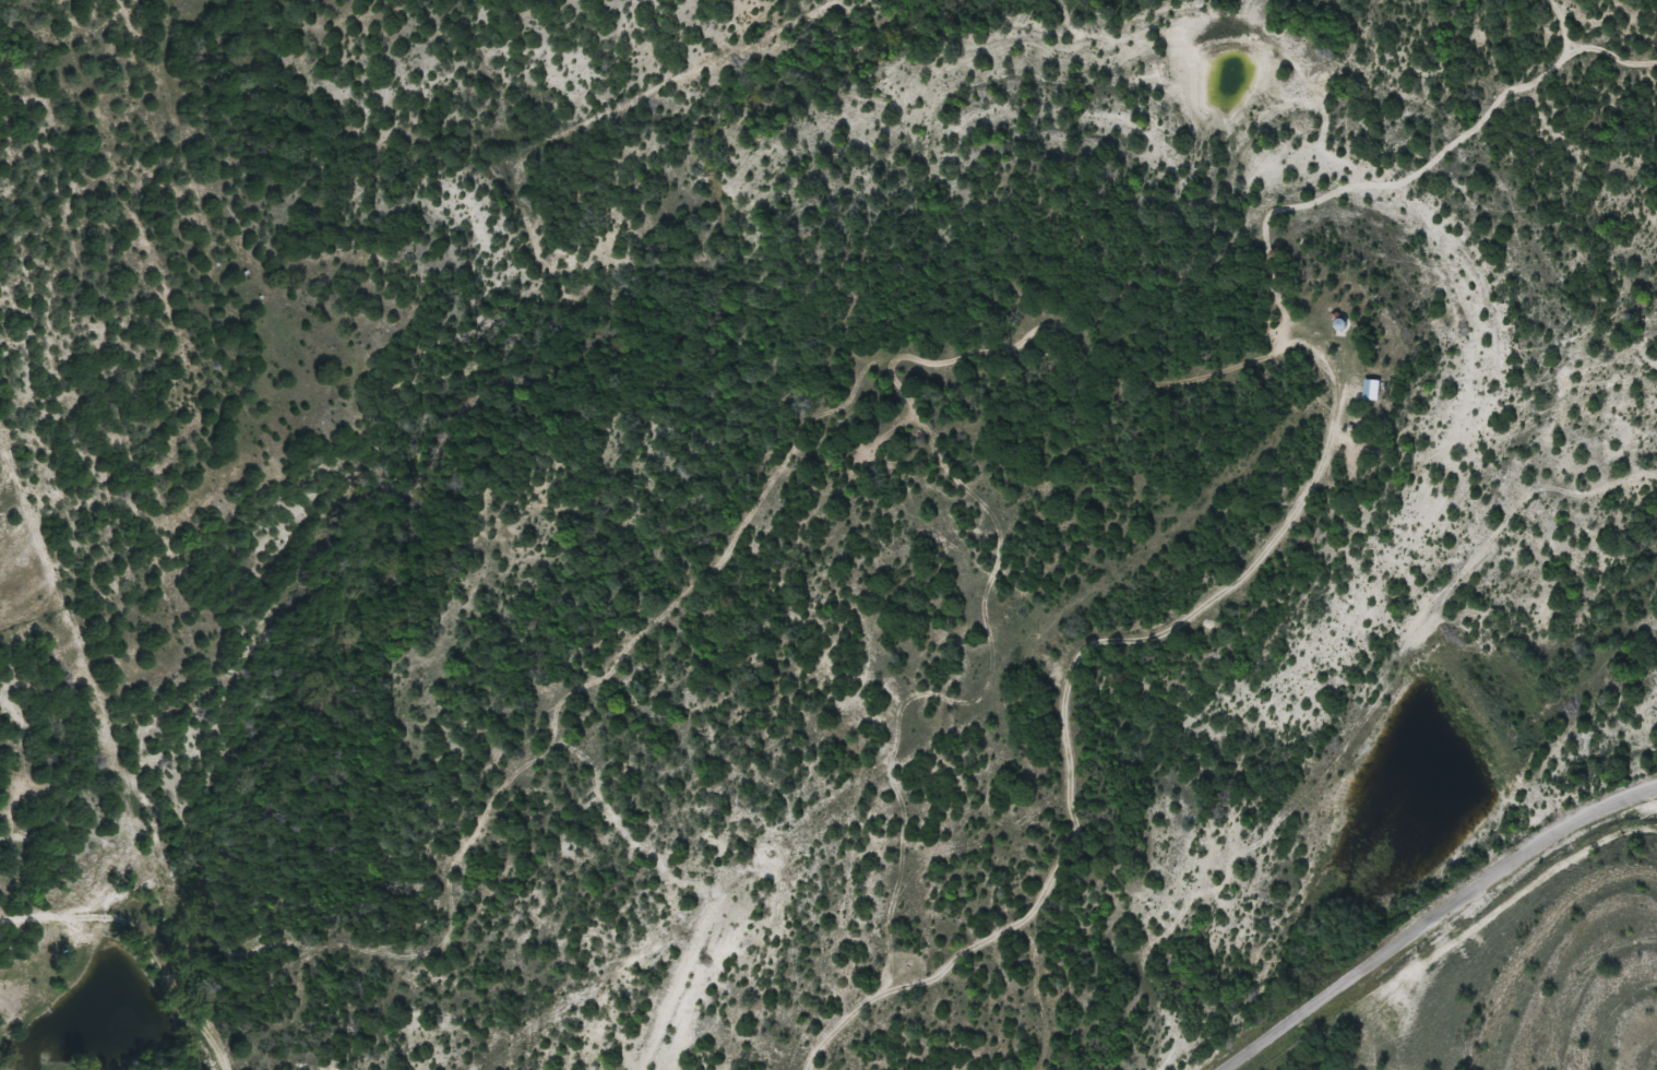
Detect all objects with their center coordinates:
road: (899, 840)
road: (1432, 916)

